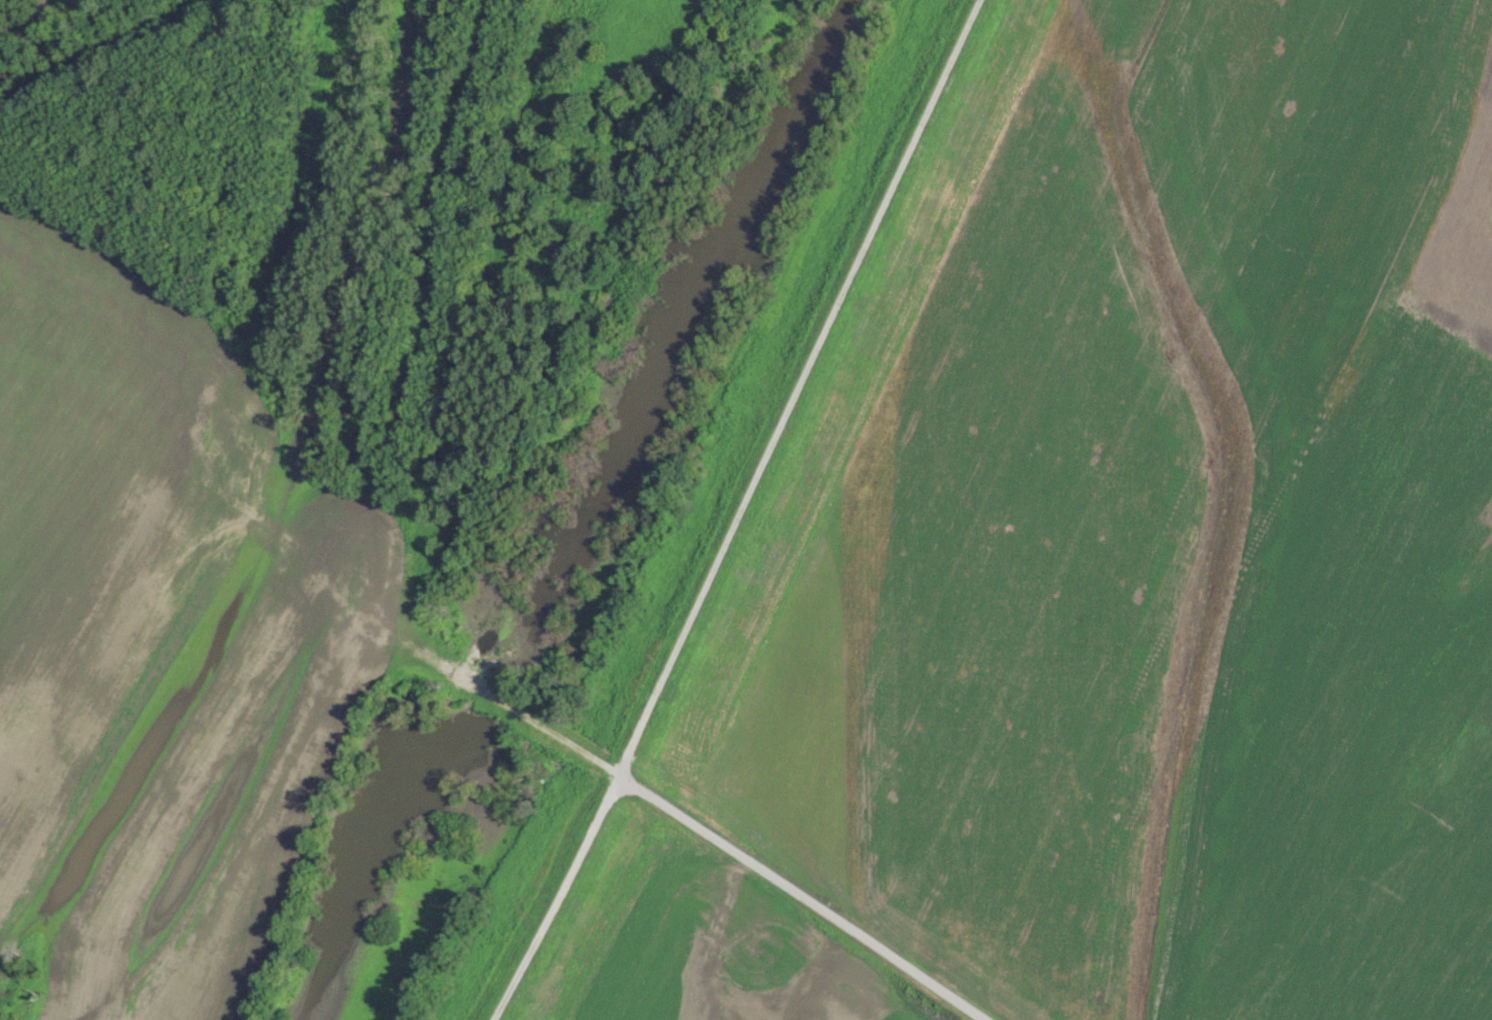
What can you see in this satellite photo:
road: (738, 511)
road: (804, 897)

